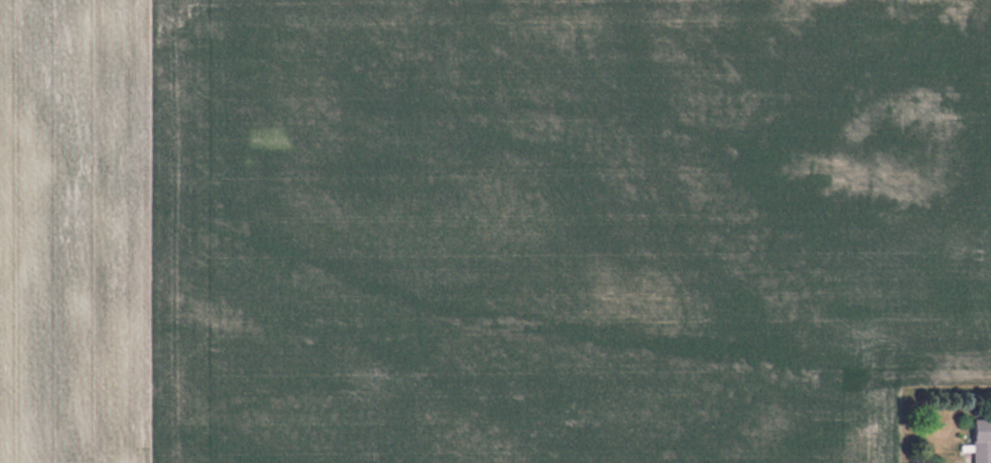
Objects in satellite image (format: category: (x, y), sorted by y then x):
building: (981, 440)

